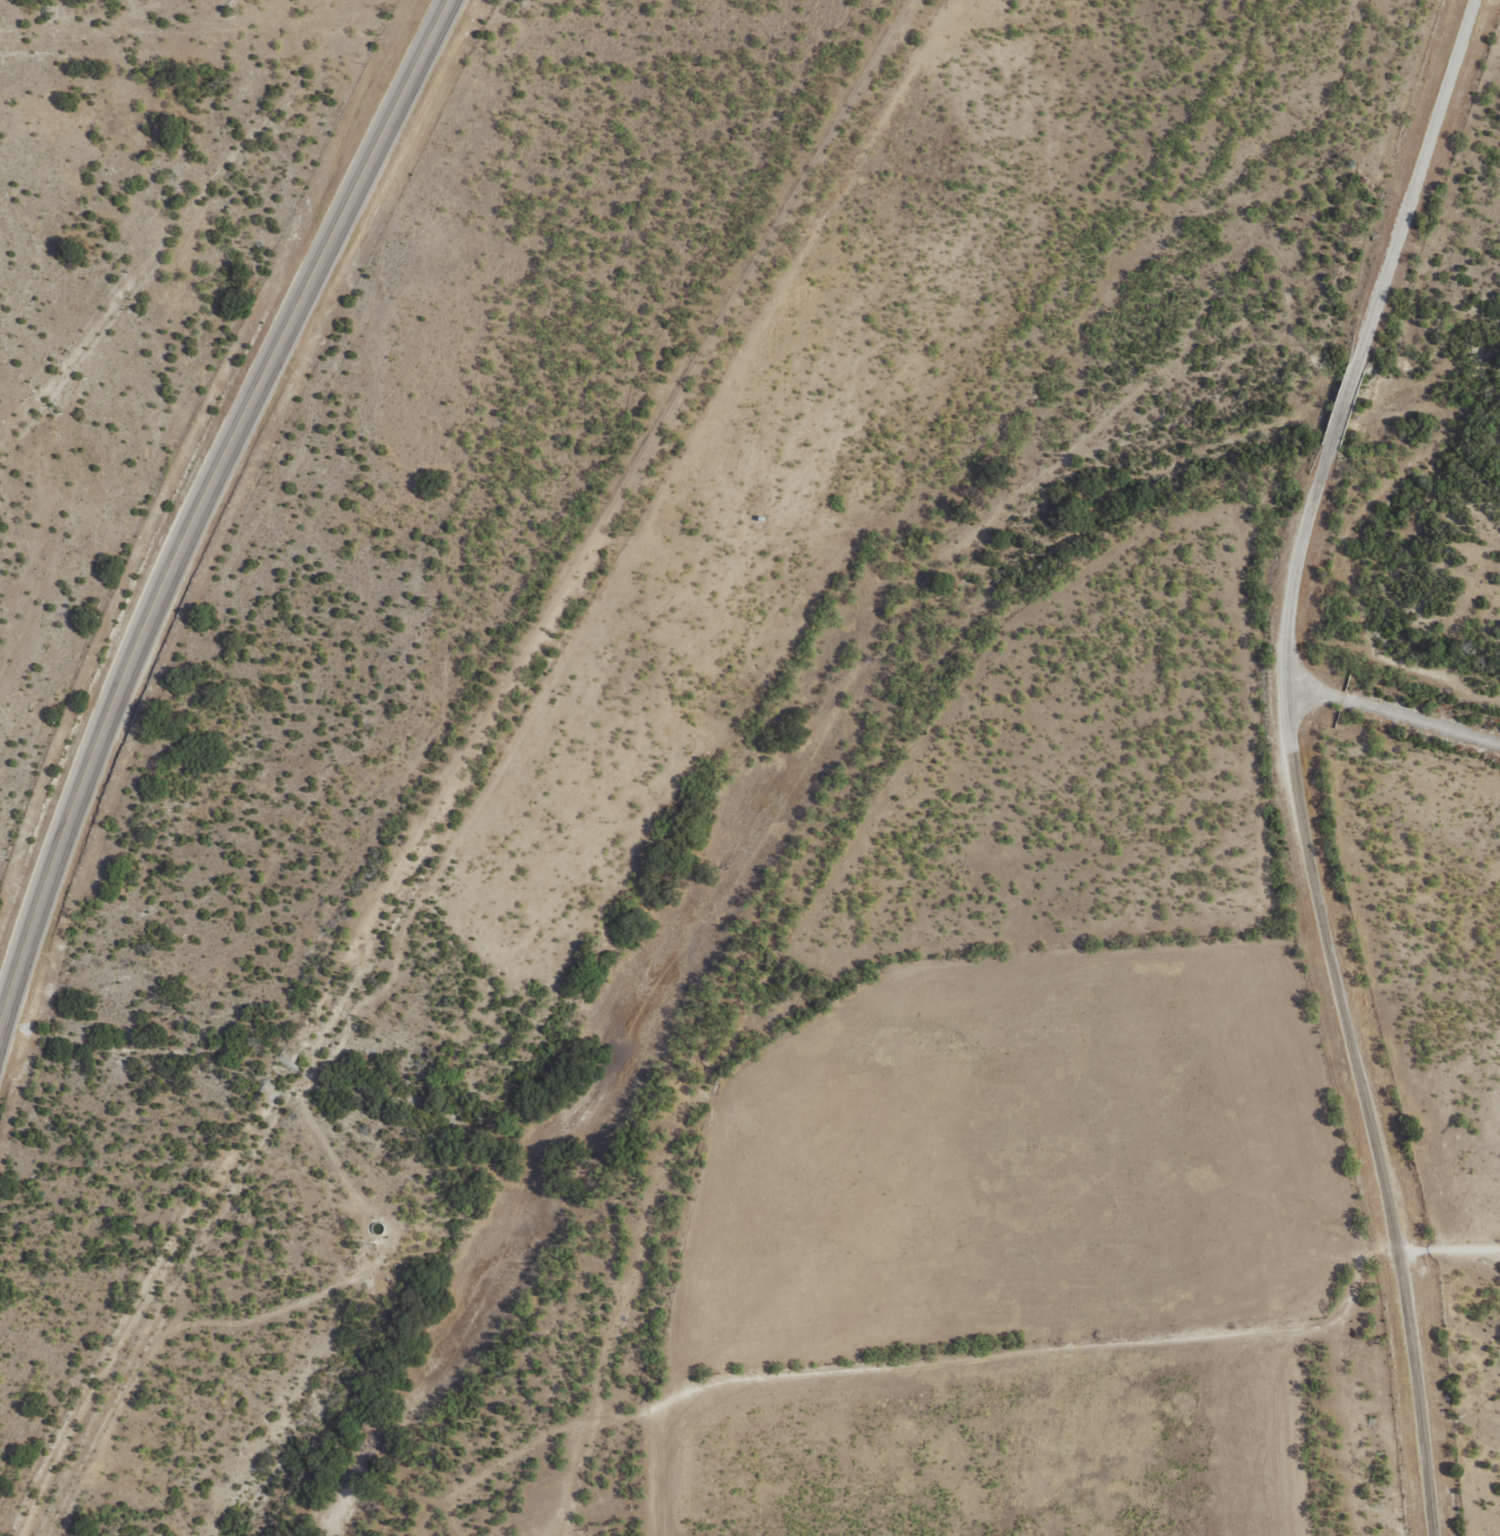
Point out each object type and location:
road: (440, 0)
road: (193, 171)
road: (198, 515)
road: (1402, 713)
road: (1293, 762)
railway: (490, 764)
river: (780, 790)
road: (1444, 1248)
road: (1055, 1369)

